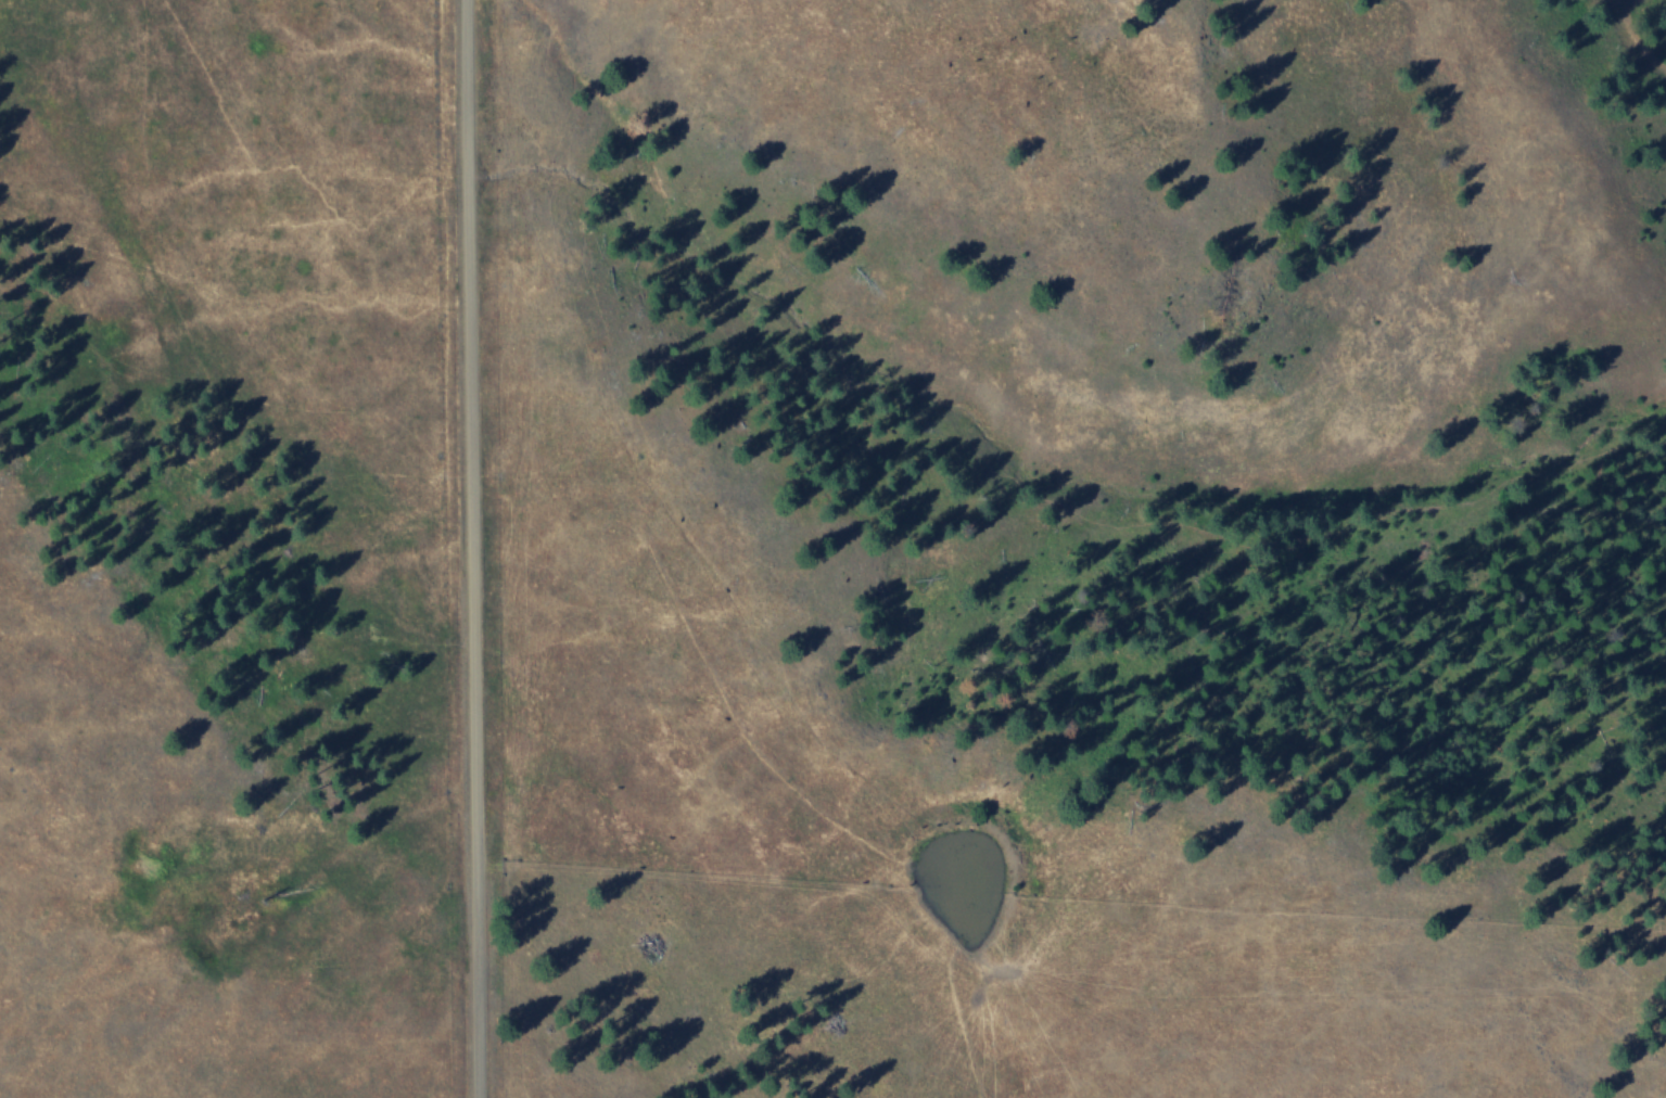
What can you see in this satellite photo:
road: (498, 549)

